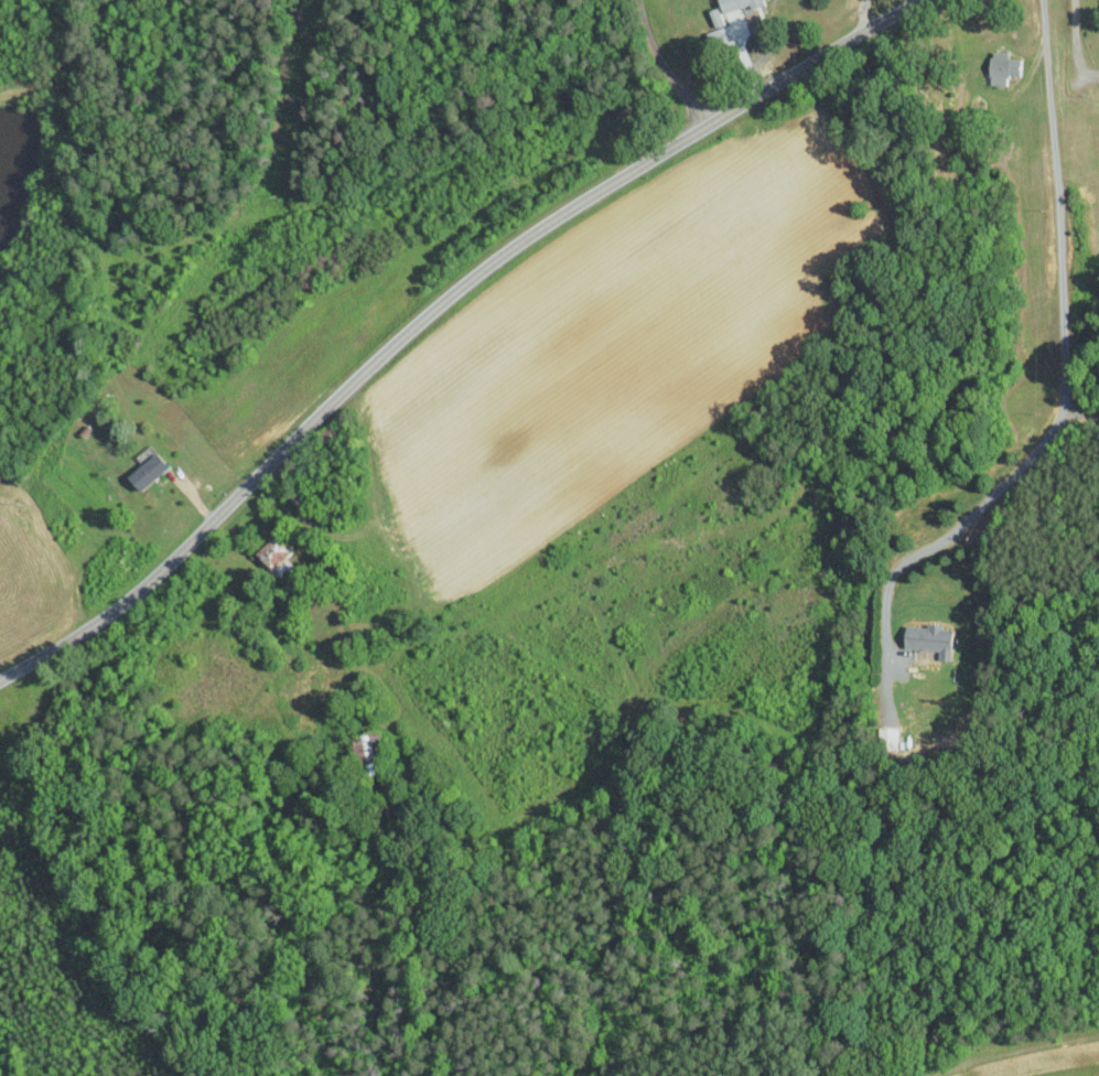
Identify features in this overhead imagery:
building: (736, 3)
road: (863, 17)
road: (751, 26)
building: (718, 31)
road: (1076, 43)
road: (664, 66)
building: (1008, 67)
road: (439, 308)
road: (1065, 358)
road: (1080, 413)
building: (152, 470)
building: (279, 556)
building: (935, 639)
building: (366, 749)

